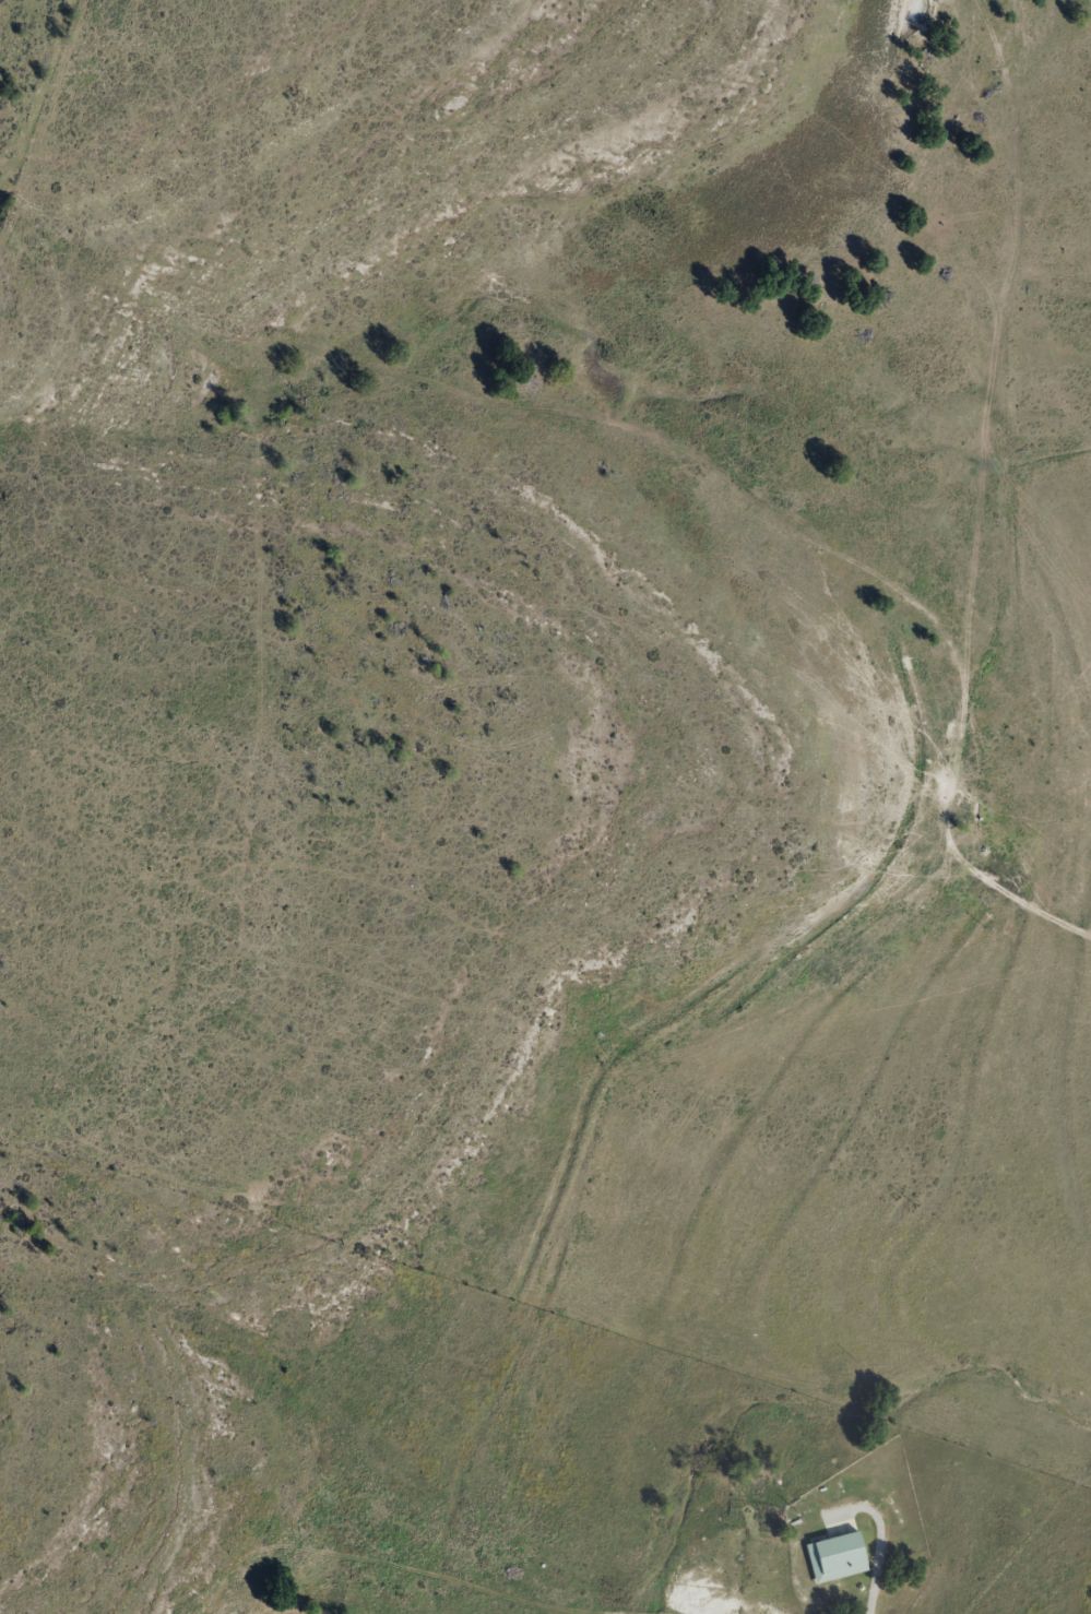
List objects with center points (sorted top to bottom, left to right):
building: (838, 1556)
road: (956, 1600)

